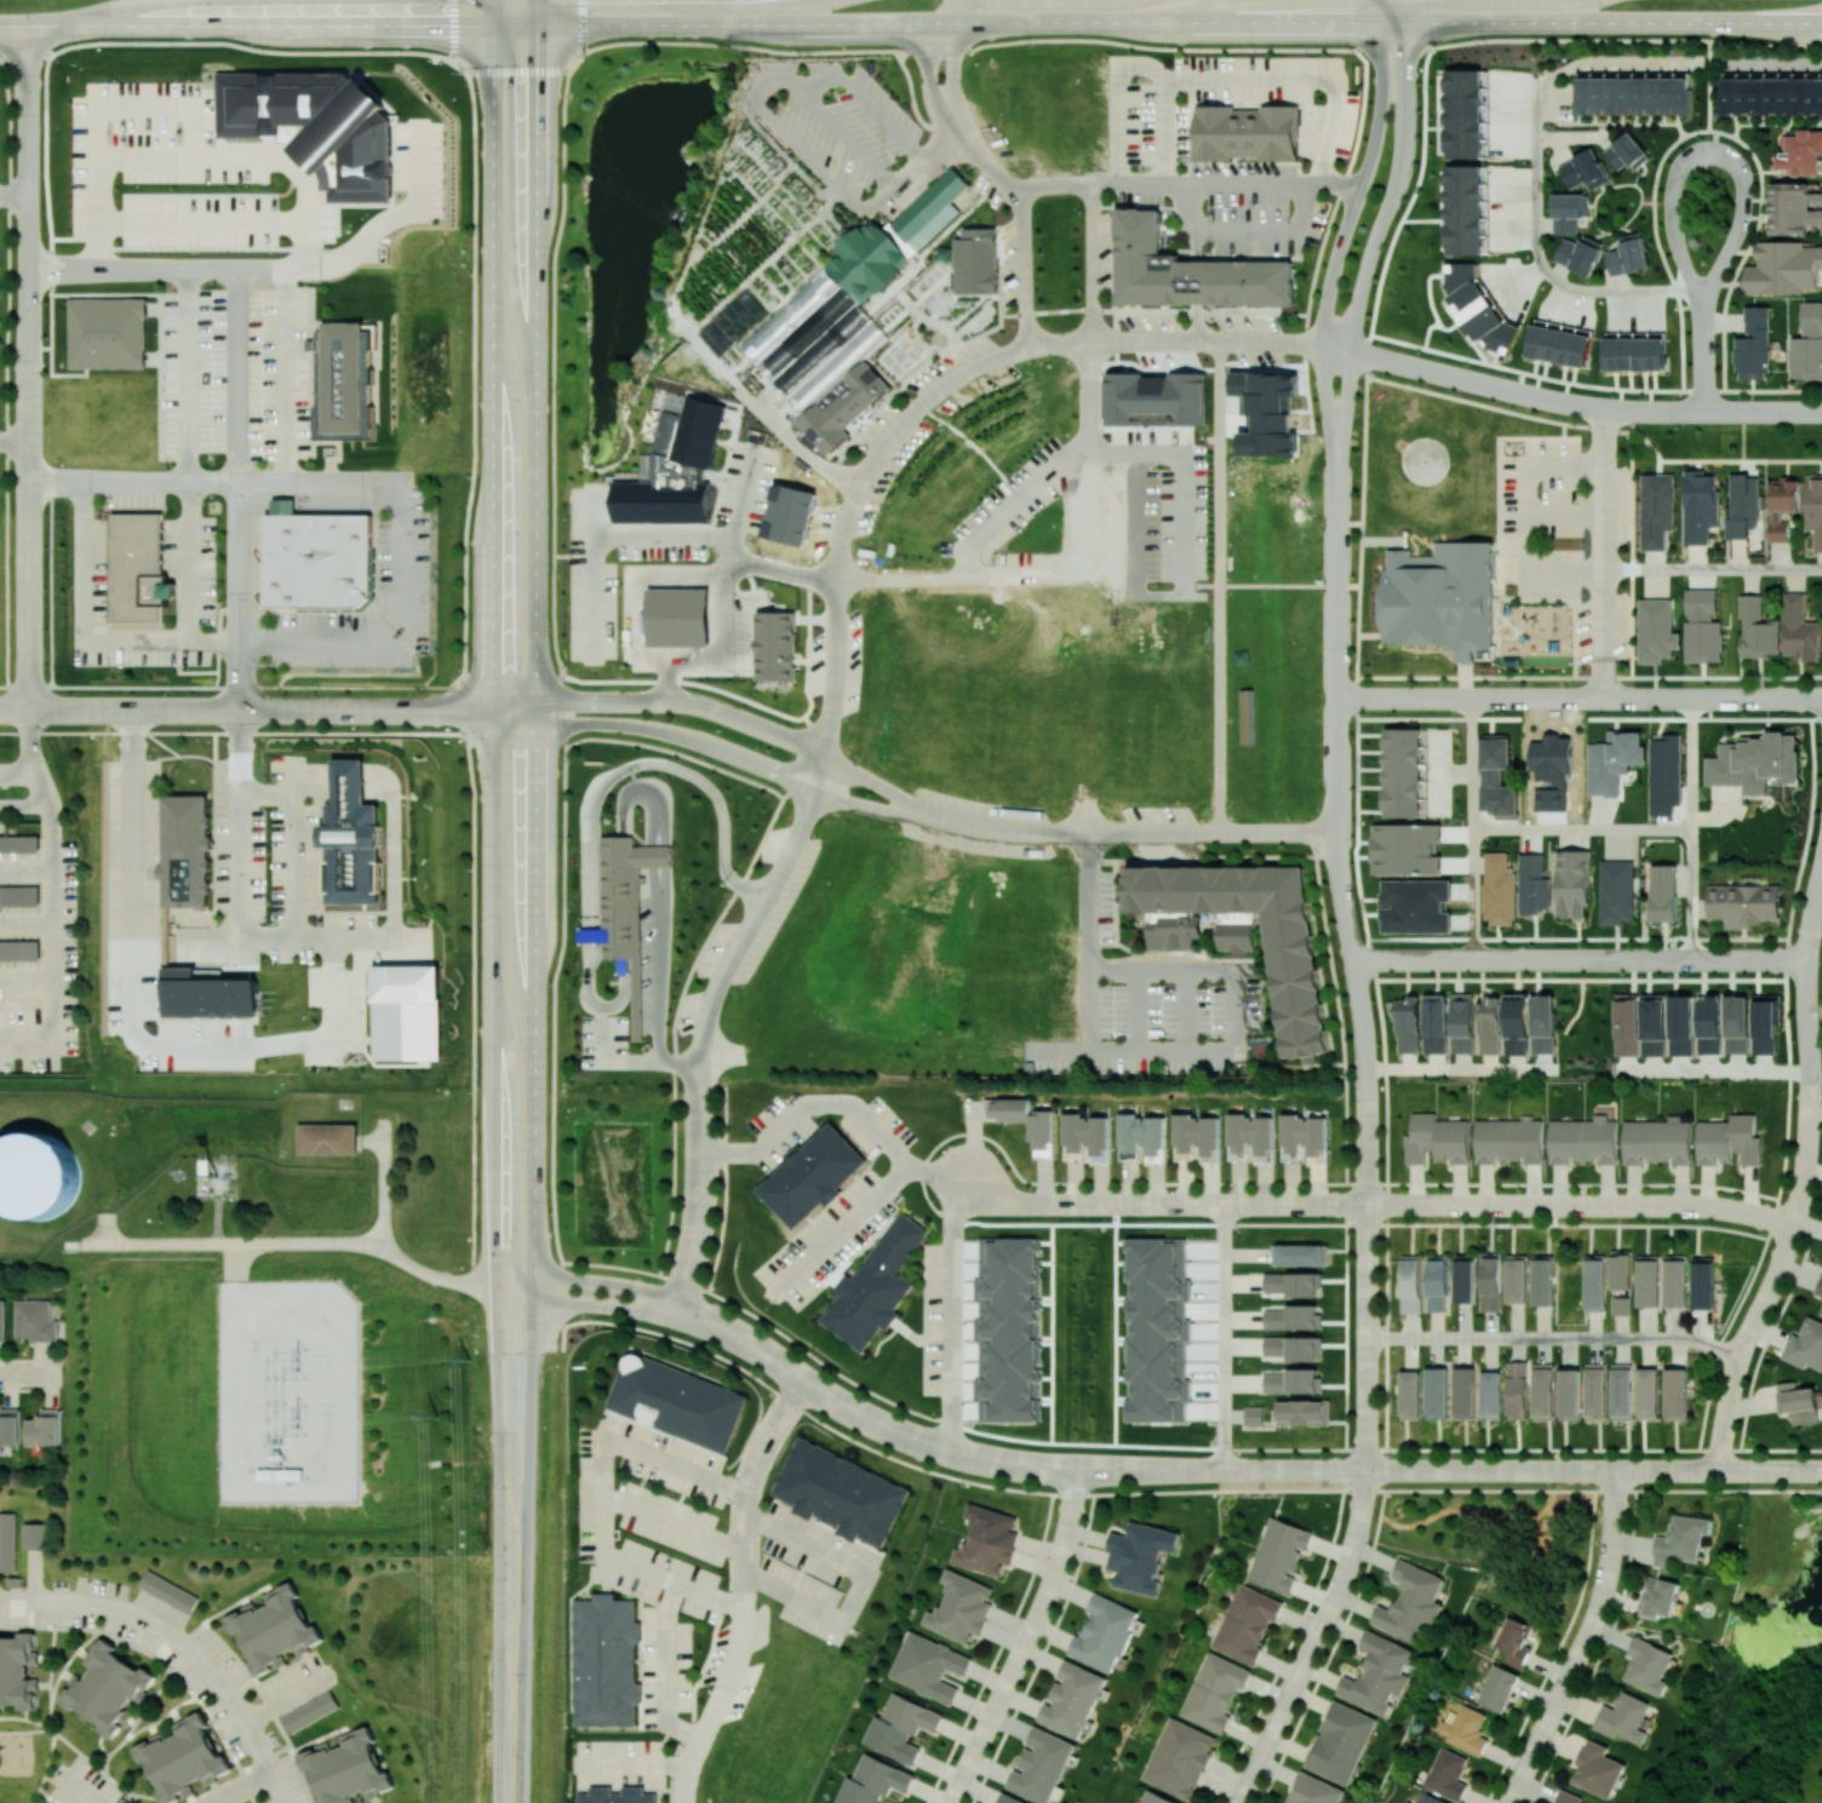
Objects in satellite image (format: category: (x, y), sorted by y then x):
road: (492, 12)
road: (537, 12)
road: (1405, 21)
road: (1179, 23)
road: (245, 24)
traffic signals: (442, 24)
road: (514, 24)
road: (1382, 25)
road: (583, 27)
road: (452, 30)
road: (929, 38)
road: (906, 52)
road: (27, 53)
road: (953, 73)
traffic signals: (537, 80)
road: (809, 80)
road: (1222, 80)
building: (1771, 94)
building: (1633, 96)
road: (1535, 101)
road: (189, 113)
building: (1465, 114)
parking lot: (836, 120)
building: (323, 128)
road: (1167, 130)
building: (1247, 131)
road: (789, 136)
road: (1709, 149)
building: (1626, 151)
building: (1803, 153)
road: (1678, 163)
road: (912, 168)
building: (1585, 170)
road: (1146, 182)
road: (1048, 183)
road: (13, 191)
road: (1668, 199)
road: (1354, 200)
road: (1388, 200)
road: (1646, 201)
parking lot: (1238, 203)
road: (1534, 203)
building: (1794, 207)
building: (1465, 208)
park: (1678, 208)
road: (1593, 209)
building: (1569, 212)
road: (400, 217)
road: (1022, 224)
road: (1245, 230)
road: (1736, 230)
park: (1405, 237)
building: (1579, 254)
building: (1628, 254)
building: (975, 259)
road: (1680, 260)
road: (1740, 264)
building: (1783, 268)
building: (1190, 271)
road: (164, 274)
road: (1197, 285)
road: (1622, 291)
building: (841, 302)
building: (1477, 309)
building: (109, 333)
parking lot: (1203, 338)
road: (1270, 341)
building: (1754, 344)
building: (1807, 344)
building: (1559, 345)
road: (1335, 349)
road: (1701, 350)
building: (1634, 354)
road: (1393, 362)
road: (1471, 381)
road: (1570, 381)
road: (242, 384)
road: (291, 384)
building: (348, 384)
road: (1772, 390)
road: (1089, 395)
road: (29, 396)
building: (1156, 398)
road: (1325, 403)
road: (1571, 403)
building: (844, 406)
road: (1343, 407)
road: (1761, 410)
building: (1267, 412)
road: (1669, 412)
road: (896, 425)
road: (1598, 430)
parking lot: (906, 432)
road: (15, 438)
park: (1730, 440)
road: (803, 448)
road: (1135, 452)
building: (686, 453)
road: (191, 458)
road: (134, 488)
parking lot: (1005, 499)
building: (1698, 505)
building: (1742, 505)
building: (1782, 506)
building: (1814, 507)
building: (664, 510)
building: (1656, 510)
road: (592, 511)
road: (1564, 512)
road: (1526, 515)
parking lot: (1182, 521)
road: (1181, 522)
road: (601, 535)
parking lot: (1569, 539)
road: (1634, 545)
road: (492, 549)
road: (1219, 550)
road: (1603, 552)
road: (729, 556)
building: (319, 559)
building: (136, 567)
road: (1712, 569)
road: (900, 578)
road: (997, 579)
road: (1336, 580)
road: (1271, 586)
road: (629, 591)
building: (1443, 597)
road: (240, 602)
road: (1358, 608)
building: (682, 619)
gas station: (682, 619)
building: (1702, 626)
building: (1757, 628)
building: (1799, 628)
building: (1656, 630)
road: (330, 643)
road: (733, 647)
building: (777, 649)
gas station: (777, 649)
building: (1467, 658)
road: (460, 676)
road: (1589, 678)
road: (229, 685)
road: (1403, 697)
road: (1528, 697)
road: (1611, 697)
road: (1643, 697)
road: (1666, 697)
road: (1686, 697)
road: (556, 699)
road: (1755, 699)
road: (548, 701)
road: (512, 705)
road: (472, 710)
road: (15, 711)
road: (59, 711)
road: (271, 711)
building: (1245, 716)
road: (512, 717)
road: (755, 725)
road: (30, 730)
road: (677, 734)
building: (934, 754)
building: (1614, 760)
road: (1471, 762)
building: (1754, 762)
road: (1335, 765)
road: (19, 770)
road: (818, 773)
building: (1403, 773)
building: (1666, 774)
building: (1497, 775)
road: (40, 777)
road: (1690, 777)
road: (703, 780)
road: (1220, 796)
road: (25, 805)
road: (870, 805)
road: (624, 809)
road: (1528, 827)
road: (1611, 827)
road: (1643, 828)
road: (1668, 828)
road: (1001, 829)
road: (1093, 833)
road: (1167, 833)
road: (1278, 833)
road: (290, 837)
building: (353, 838)
building: (19, 843)
building: (1405, 848)
building: (185, 849)
road: (665, 866)
road: (1821, 866)
road: (653, 874)
building: (1571, 883)
building: (1532, 884)
building: (1499, 889)
road: (393, 891)
building: (625, 891)
building: (1616, 891)
building: (1663, 892)
road: (1471, 894)
building: (19, 895)
road: (588, 895)
road: (597, 896)
road: (1341, 897)
building: (1743, 903)
road: (1690, 908)
road: (534, 913)
road: (1816, 914)
road: (1810, 917)
parking lot: (747, 928)
road: (746, 930)
building: (1247, 931)
building: (591, 934)
road: (56, 947)
building: (21, 949)
road: (1411, 960)
road: (1555, 960)
road: (1723, 961)
building: (624, 965)
road: (1233, 969)
road: (1580, 978)
road: (1805, 989)
road: (624, 990)
road: (588, 993)
building: (207, 994)
building: (636, 998)
parking lot: (1147, 1000)
road: (1577, 1006)
road: (1136, 1007)
road: (1185, 1007)
road: (1088, 1009)
road: (600, 1011)
building: (407, 1012)
road: (658, 1018)
road: (1359, 1021)
building: (1462, 1022)
building: (1765, 1022)
building: (1436, 1023)
building: (1516, 1023)
building: (1542, 1023)
building: (1736, 1023)
building: (1408, 1024)
building: (1627, 1024)
building: (1652, 1024)
building: (1681, 1024)
building: (1708, 1024)
building: (1489, 1026)
road: (601, 1038)
road: (274, 1040)
road: (1809, 1049)
park: (1815, 1049)
road: (635, 1060)
road: (684, 1062)
road: (1459, 1069)
road: (1714, 1072)
road: (1385, 1081)
road: (1788, 1090)
road: (807, 1103)
building: (1042, 1130)
building: (1141, 1135)
building: (1088, 1137)
building: (1251, 1137)
building: (327, 1138)
building: (1198, 1138)
building: (1305, 1138)
road: (371, 1139)
building: (1437, 1139)
building: (1508, 1141)
building: (1583, 1141)
building: (1656, 1141)
building: (1728, 1141)
road: (1367, 1142)
road: (1807, 1154)
road: (924, 1162)
building: (205, 1166)
road: (934, 1171)
building: (36, 1175)
storage tank: (36, 1175)
building: (812, 1175)
park: (628, 1181)
road: (384, 1182)
road: (107, 1187)
road: (884, 1187)
road: (700, 1195)
road: (1092, 1204)
road: (1295, 1204)
road: (1581, 1205)
parking lot: (858, 1216)
road: (218, 1218)
road: (107, 1227)
road: (883, 1228)
road: (170, 1241)
building: (70, 1242)
road: (93, 1242)
road: (367, 1242)
road: (819, 1248)
building: (1301, 1254)
road: (516, 1258)
road: (234, 1261)
building: (1621, 1269)
road: (544, 1276)
building: (1463, 1277)
building: (1516, 1277)
building: (1542, 1280)
building: (1648, 1280)
building: (1674, 1280)
building: (1490, 1281)
road: (619, 1282)
building: (1291, 1282)
building: (1437, 1282)
building: (1594, 1282)
building: (1703, 1282)
building: (1411, 1284)
building: (875, 1285)
building: (1818, 1287)
road: (1770, 1290)
road: (619, 1305)
building: (1621, 1305)
building: (1821, 1310)
road: (951, 1311)
building: (1293, 1316)
building: (1, 1319)
building: (34, 1320)
building: (1009, 1328)
building: (1158, 1330)
road: (1053, 1334)
road: (1116, 1334)
road: (1224, 1337)
road: (1365, 1337)
road: (1554, 1338)
road: (741, 1339)
building: (1805, 1345)
building: (1291, 1346)
road: (510, 1351)
power tower: (469, 1360)
power tower: (302, 1361)
road: (33, 1376)
building: (1293, 1380)
building: (1517, 1389)
power substation: (288, 1390)
building: (1543, 1391)
building: (1595, 1391)
building: (1622, 1391)
building: (1437, 1393)
building: (1465, 1393)
building: (1648, 1393)
building: (1410, 1394)
building: (1491, 1394)
building: (1569, 1394)
building: (1675, 1394)
road: (880, 1396)
building: (678, 1401)
building: (1798, 1402)
road: (1728, 1411)
building: (1302, 1412)
power tower: (436, 1414)
building: (1255, 1414)
power tower: (300, 1418)
road: (872, 1422)
building: (10, 1425)
building: (45, 1428)
road: (768, 1437)
road: (495, 1439)
road: (1523, 1448)
road: (1082, 1470)
road: (1220, 1470)
road: (1294, 1470)
road: (1492, 1470)
road: (1668, 1471)
road: (1732, 1471)
road: (1784, 1471)
building: (281, 1474)
road: (605, 1492)
building: (840, 1492)
road: (1162, 1492)
road: (1363, 1503)
road: (1615, 1516)
road: (675, 1524)
park: (1507, 1534)
building: (34, 1535)
building: (7, 1540)
building: (987, 1540)
building: (1681, 1540)
building: (1278, 1554)
road: (1522, 1554)
building: (1140, 1556)
road: (34, 1575)
road: (1343, 1577)
road: (860, 1585)
building: (170, 1591)
building: (1660, 1597)
road: (17, 1600)
building: (1411, 1602)
road: (1599, 1606)
building: (961, 1607)
building: (1245, 1623)
building: (275, 1629)
building: (1105, 1632)
road: (1027, 1640)
road: (1290, 1640)
building: (1514, 1641)
road: (181, 1646)
road: (1331, 1649)
road: (998, 1650)
road: (1580, 1654)
road: (739, 1658)
park: (1761, 1659)
building: (606, 1660)
building: (1648, 1665)
building: (928, 1666)
road: (664, 1669)
building: (18, 1670)
building: (1379, 1675)
building: (108, 1688)
building: (1497, 1688)
building: (1214, 1690)
road: (287, 1696)
building: (1072, 1699)
building: (310, 1710)
road: (1283, 1710)
building: (1623, 1718)
building: (901, 1727)
building: (1465, 1729)
road: (1543, 1732)
building: (1341, 1741)
building: (1179, 1757)
building: (183, 1758)
road: (636, 1765)
building: (1041, 1765)
building: (348, 1768)
building: (1597, 1769)
building: (1446, 1773)
building: (873, 1781)
road: (240, 1788)
road: (275, 1788)
road: (76, 1790)
building: (1313, 1790)
building: (617, 1795)
building: (1568, 1797)
building: (1153, 1798)
building: (1428, 1798)
building: (1009, 1799)
building: (1406, 1802)

